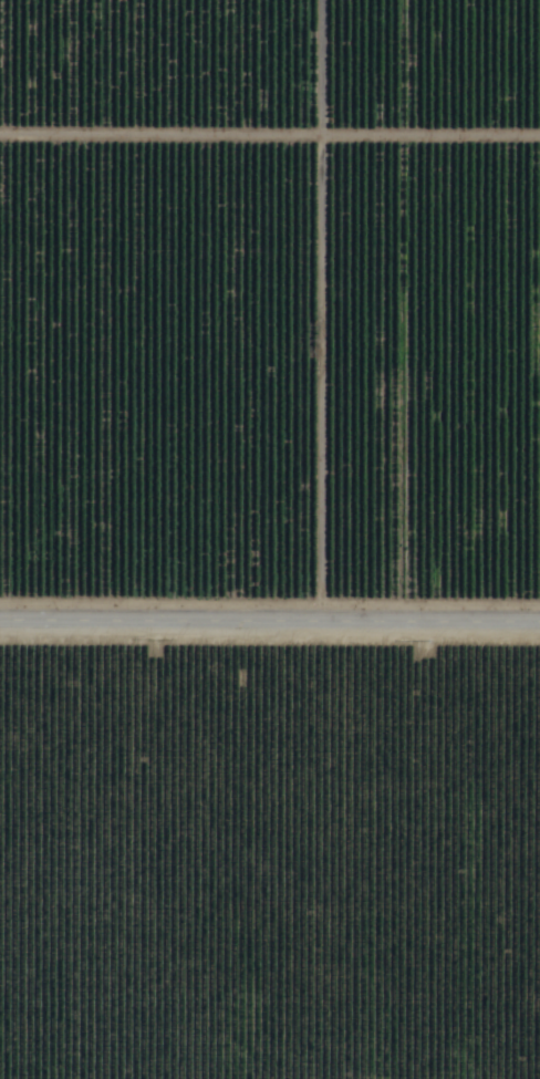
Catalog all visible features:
crop: (270, 539)
road: (269, 627)

